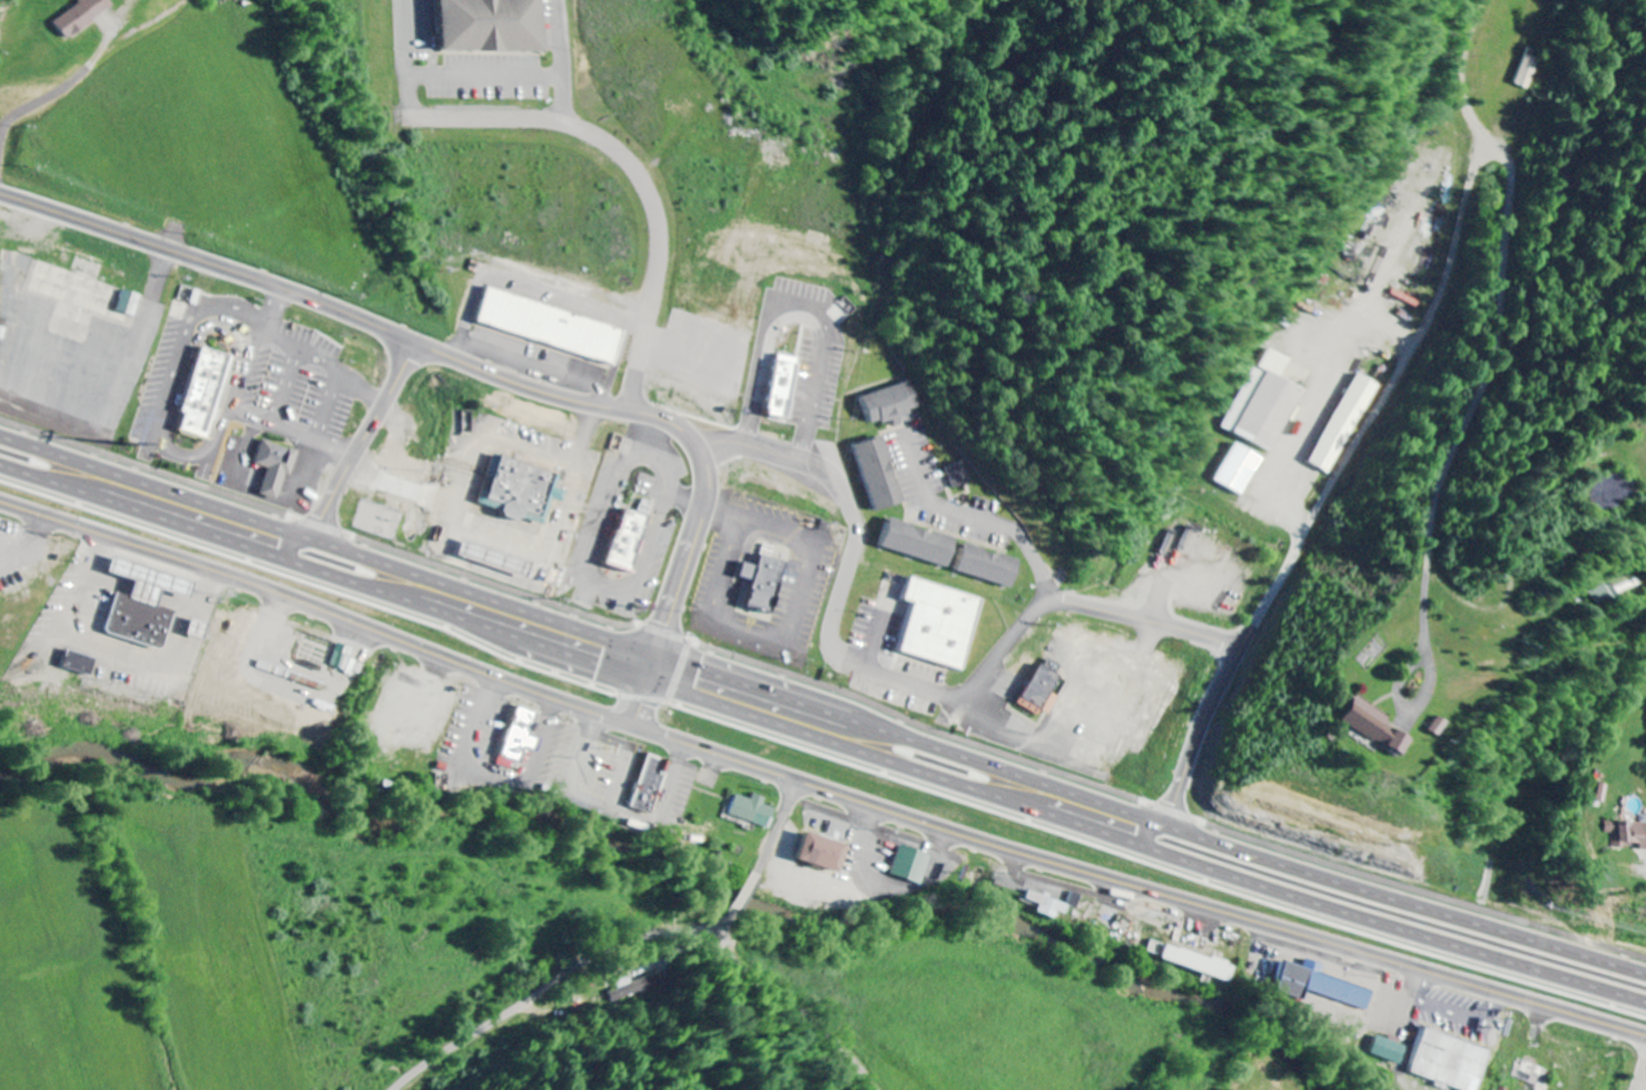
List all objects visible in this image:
building: (82, 17)
building: (494, 27)
road: (52, 97)
building: (127, 304)
building: (550, 327)
road: (486, 371)
road: (240, 383)
building: (782, 387)
building: (201, 394)
building: (891, 404)
building: (1266, 404)
road: (1467, 423)
building: (1341, 424)
road: (1364, 432)
road: (365, 443)
building: (273, 467)
building: (1236, 470)
building: (879, 475)
building: (962, 476)
building: (518, 490)
road: (462, 497)
road: (726, 516)
building: (627, 541)
road: (804, 544)
building: (918, 544)
building: (988, 567)
road: (1042, 578)
building: (762, 584)
building: (1596, 595)
building: (141, 605)
building: (939, 625)
traffic signals: (656, 656)
building: (341, 657)
building: (76, 664)
traffic signals: (649, 676)
building: (1042, 690)
road: (821, 708)
road: (492, 725)
building: (1373, 726)
road: (821, 735)
building: (519, 740)
road: (818, 785)
building: (649, 786)
building: (1601, 793)
building: (753, 812)
road: (782, 828)
building: (1626, 833)
building: (821, 854)
building: (909, 866)
river: (681, 879)
road: (752, 889)
building: (1195, 962)
road: (569, 979)
building: (650, 984)
building: (1318, 984)
road: (794, 998)
building: (1384, 1049)
building: (1446, 1061)

